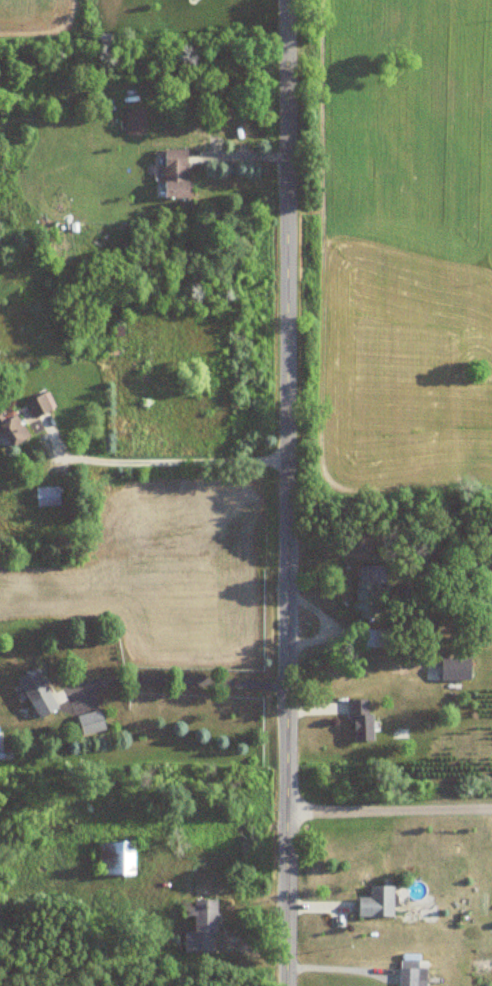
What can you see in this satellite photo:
building: (136, 121)
building: (176, 173)
building: (39, 406)
building: (13, 428)
road: (163, 459)
road: (288, 493)
building: (48, 496)
building: (368, 588)
building: (370, 637)
building: (456, 668)
road: (187, 676)
building: (37, 692)
building: (362, 719)
building: (92, 722)
road: (389, 808)
building: (118, 858)
building: (378, 902)
building: (202, 928)
building: (412, 977)

